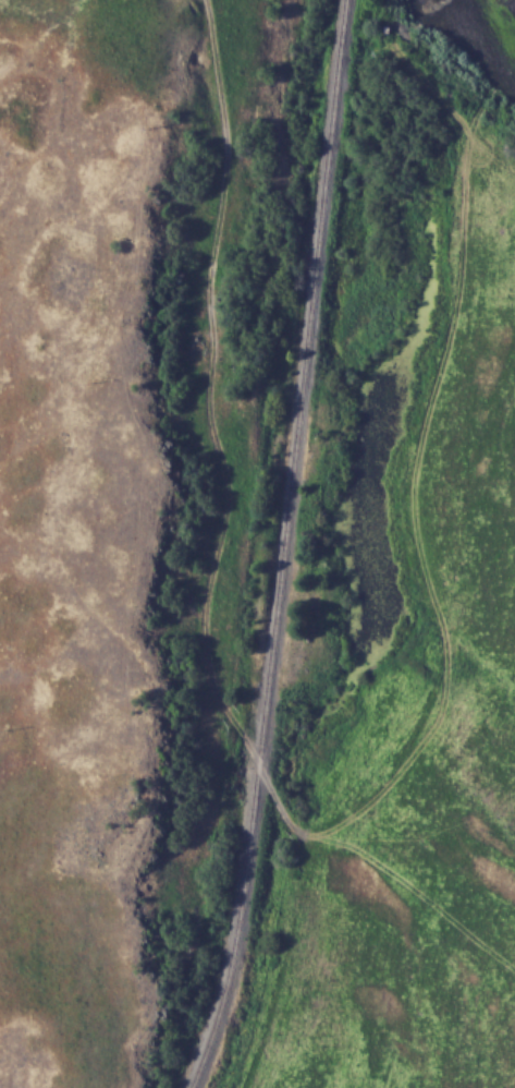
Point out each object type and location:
river: (491, 28)
railway: (285, 548)
road: (210, 579)

